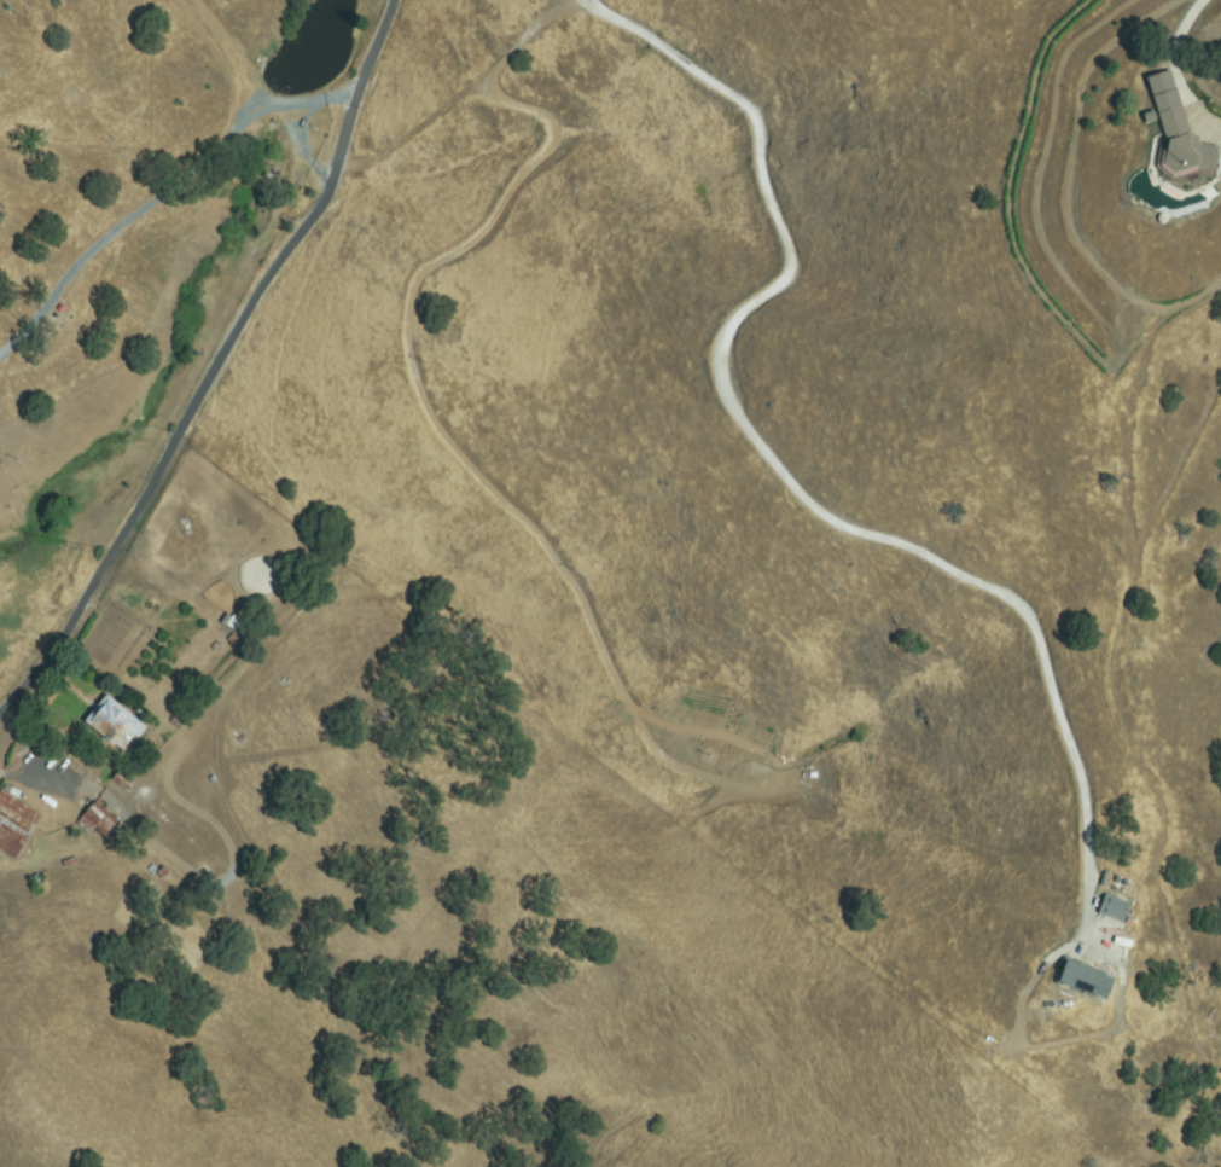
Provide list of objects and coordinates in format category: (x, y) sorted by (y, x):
building: (1169, 130)
road: (215, 365)
building: (115, 722)
building: (121, 780)
building: (98, 820)
building: (14, 825)

